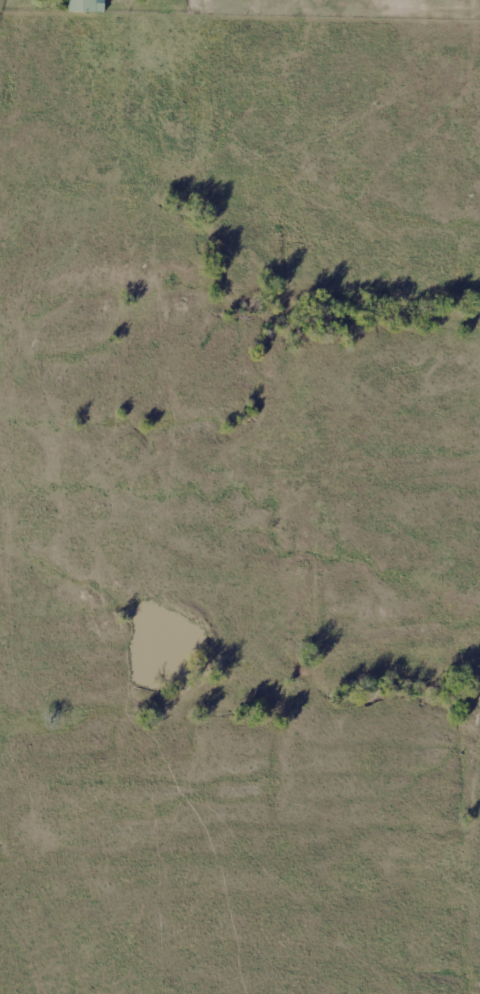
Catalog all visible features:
building: (87, 6)

